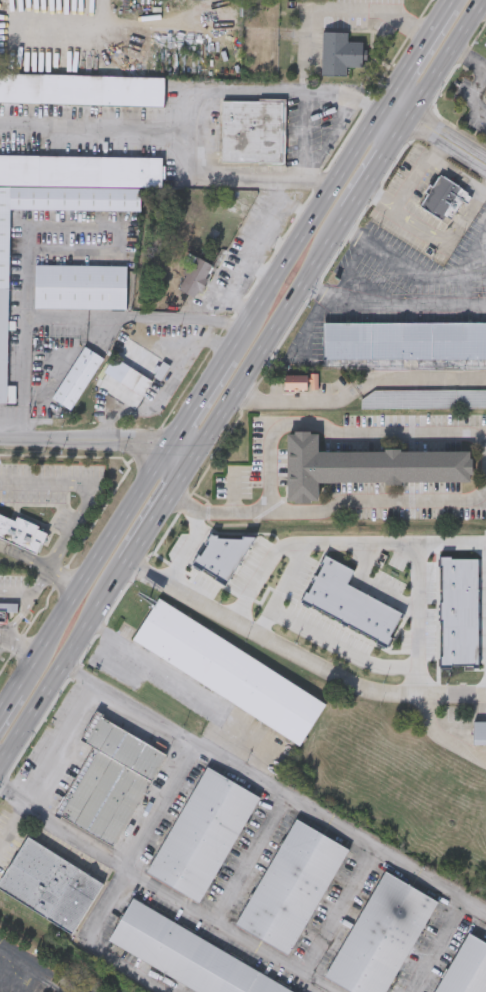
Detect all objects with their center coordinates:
road: (482, 6)
road: (372, 9)
road: (420, 50)
building: (337, 52)
road: (444, 56)
building: (81, 87)
road: (469, 87)
building: (484, 96)
road: (194, 106)
road: (97, 127)
building: (252, 130)
road: (437, 133)
road: (440, 149)
road: (375, 168)
building: (81, 169)
road: (459, 174)
road: (411, 183)
road: (485, 188)
road: (281, 189)
road: (376, 197)
building: (444, 198)
road: (316, 217)
road: (444, 239)
road: (122, 241)
road: (279, 242)
road: (253, 250)
road: (262, 270)
road: (417, 273)
building: (195, 276)
building: (79, 285)
road: (467, 289)
building: (3, 306)
road: (392, 308)
road: (137, 323)
road: (25, 331)
road: (270, 337)
building: (404, 340)
building: (128, 374)
building: (75, 376)
building: (302, 383)
road: (358, 385)
road: (207, 389)
building: (423, 398)
road: (339, 430)
road: (99, 437)
building: (364, 464)
road: (87, 492)
road: (378, 500)
road: (162, 505)
road: (217, 511)
building: (20, 532)
road: (346, 546)
road: (185, 549)
road: (25, 558)
road: (98, 561)
road: (260, 570)
road: (65, 580)
road: (374, 587)
road: (16, 590)
road: (26, 603)
building: (1, 608)
road: (421, 621)
road: (2, 637)
road: (343, 645)
road: (21, 649)
road: (299, 655)
road: (63, 664)
building: (228, 671)
road: (189, 683)
road: (13, 699)
building: (478, 732)
road: (445, 735)
road: (59, 741)
building: (109, 780)
road: (275, 789)
road: (162, 806)
road: (12, 821)
building: (202, 835)
road: (250, 858)
building: (48, 885)
building: (291, 887)
road: (166, 892)
road: (339, 910)
building: (380, 936)
road: (88, 943)
road: (434, 946)
building: (184, 954)
building: (466, 968)
road: (35, 970)

